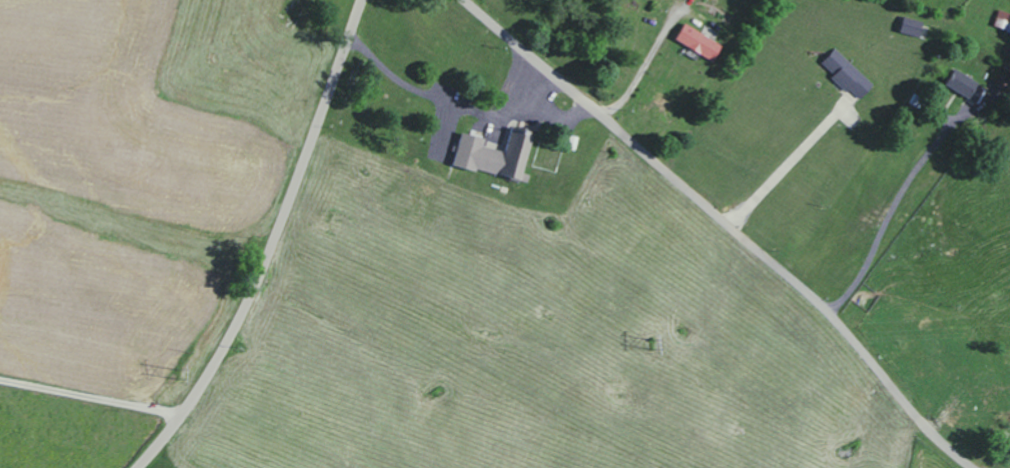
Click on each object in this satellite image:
building: (910, 26)
building: (697, 41)
building: (846, 72)
road: (641, 74)
building: (963, 85)
road: (445, 98)
road: (553, 117)
park: (548, 152)
building: (493, 154)
road: (789, 164)
road: (299, 175)
road: (888, 222)
road: (731, 225)
power tower: (649, 328)
power tower: (179, 372)
road: (89, 397)
road: (183, 409)

